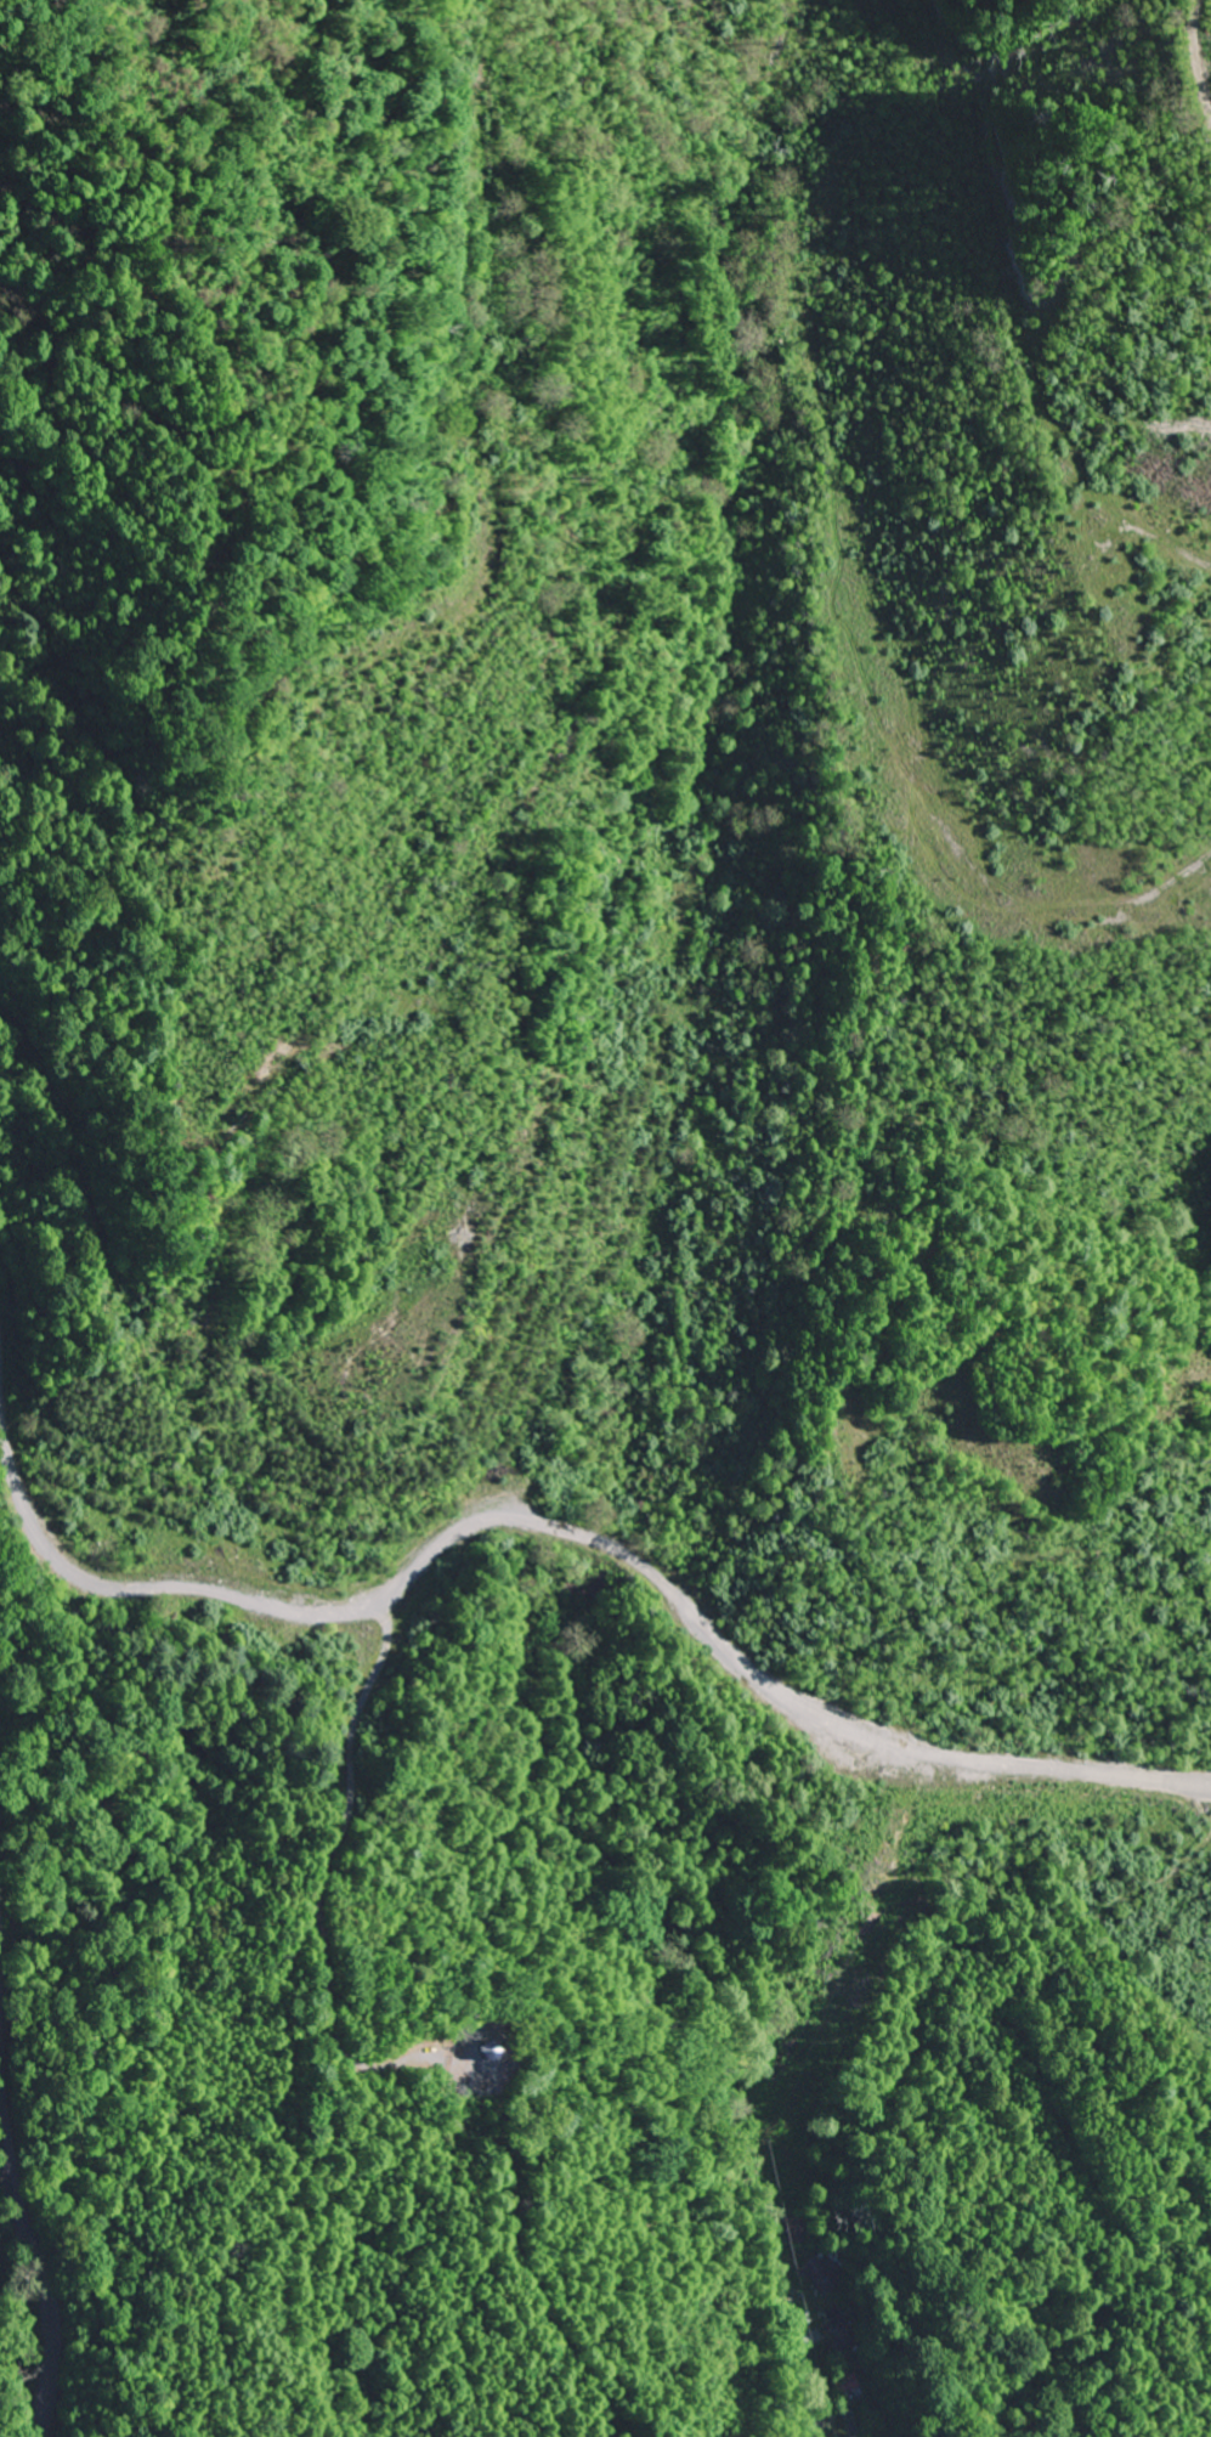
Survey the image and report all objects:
road: (995, 309)
road: (458, 598)
road: (129, 1301)
road: (579, 1533)
road: (293, 1974)
building: (481, 2047)
road: (408, 2058)
road: (476, 2127)
building: (797, 2227)
road: (35, 2254)
building: (821, 2271)
building: (838, 2328)
road: (459, 2331)
road: (802, 2340)
building: (845, 2381)

